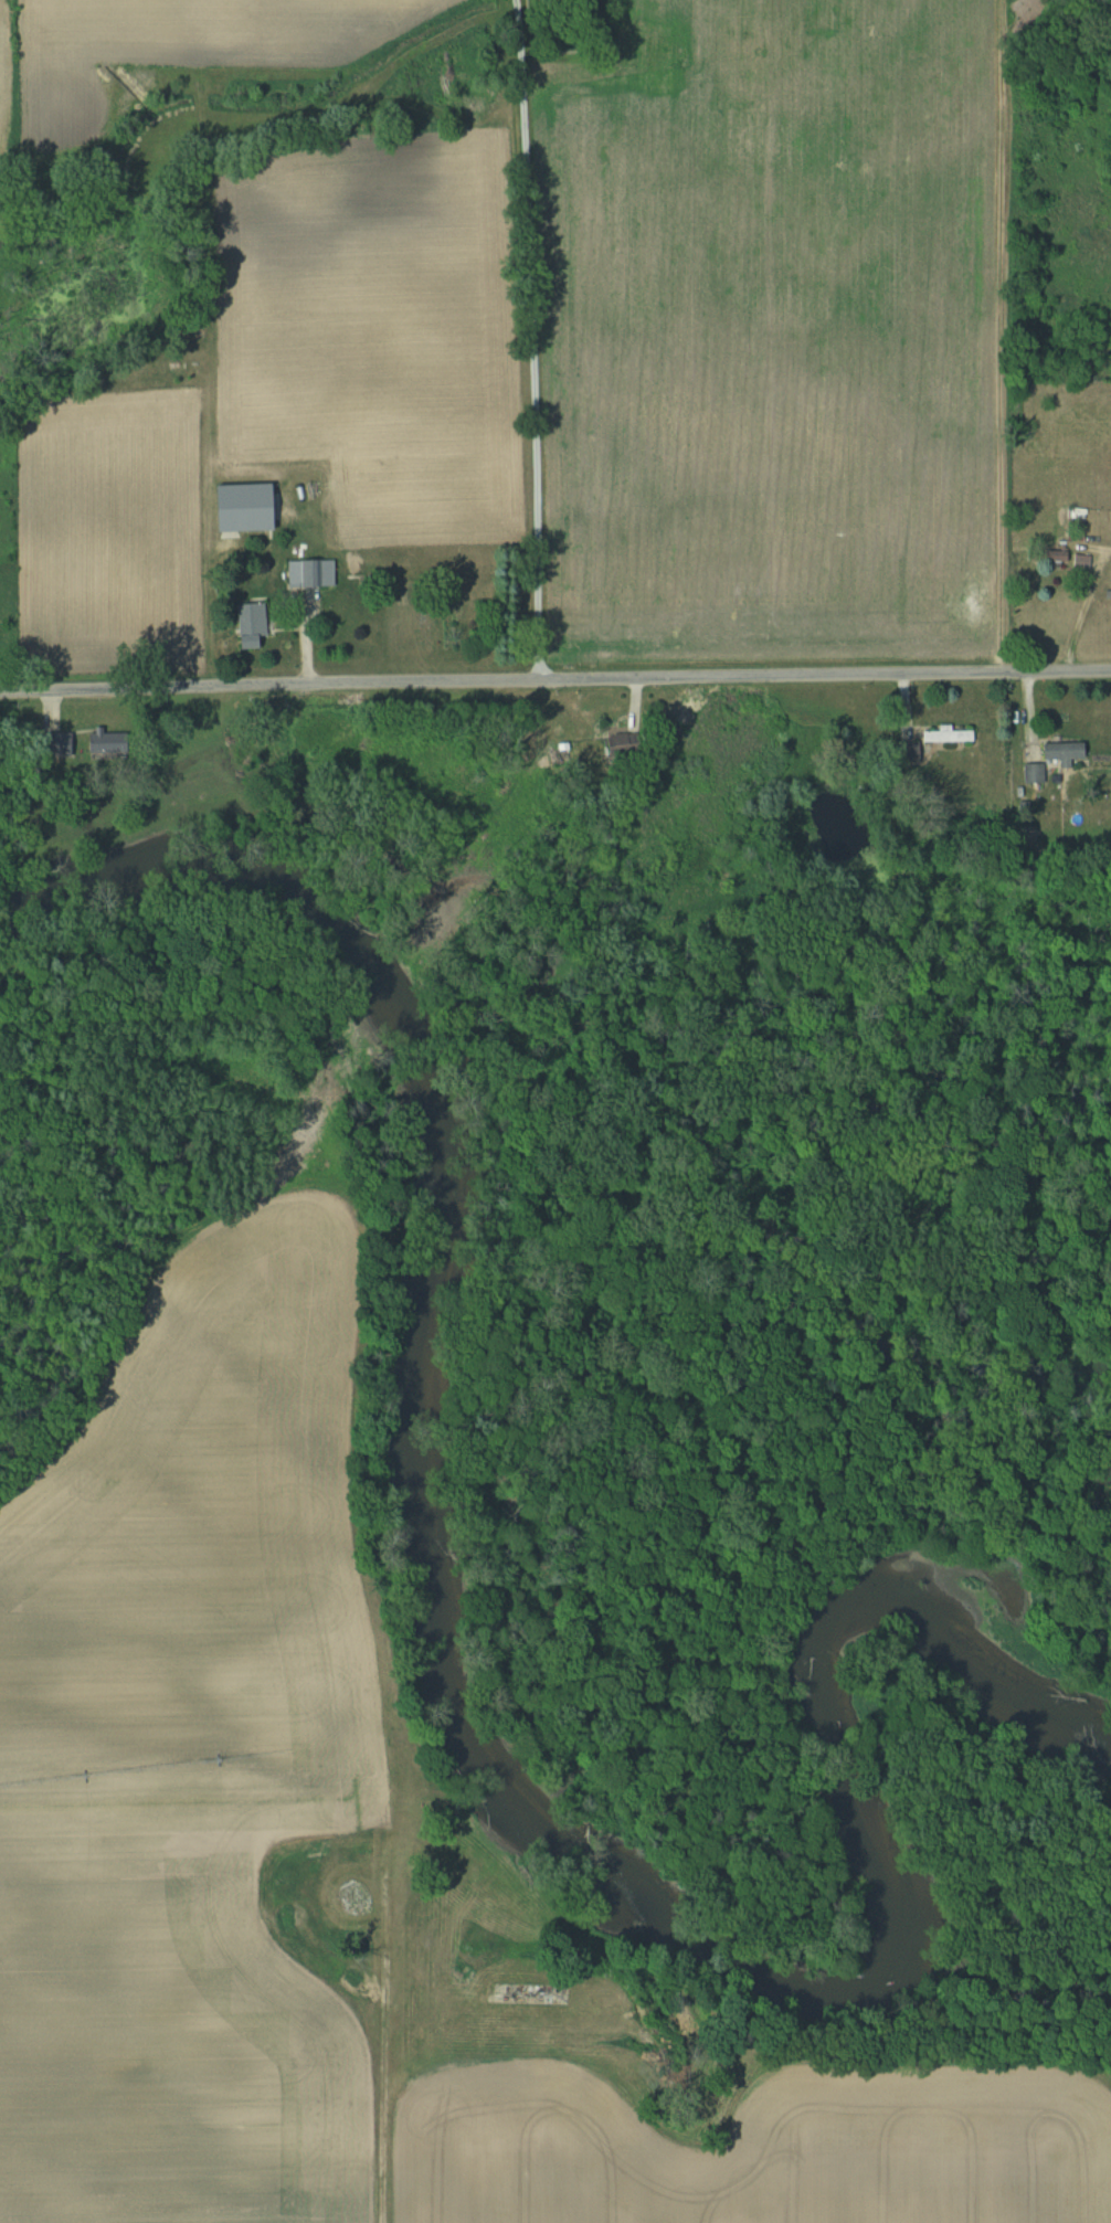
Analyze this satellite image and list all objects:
road: (530, 338)
building: (1050, 554)
building: (313, 572)
building: (255, 618)
road: (554, 677)
building: (946, 735)
building: (62, 741)
building: (624, 742)
building: (1056, 759)
river: (474, 1760)

